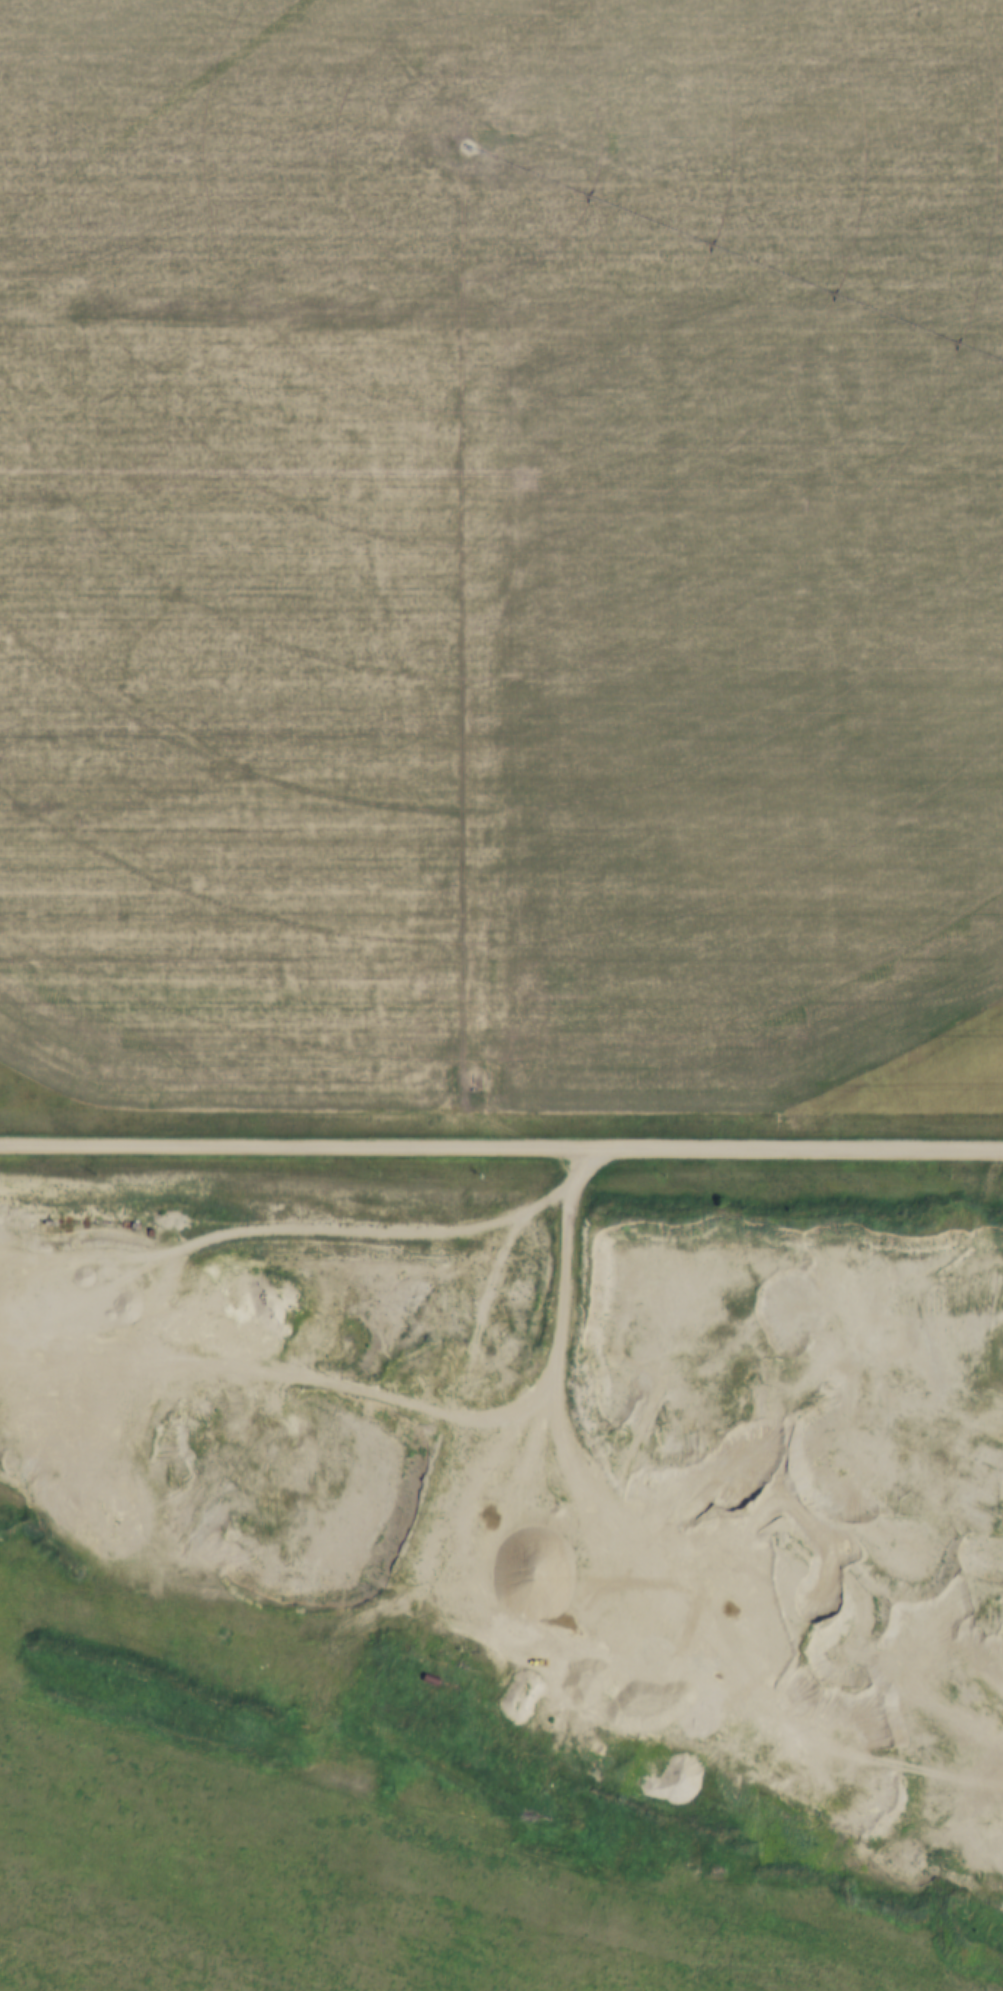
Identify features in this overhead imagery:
road: (501, 1148)
quarry: (541, 1501)

